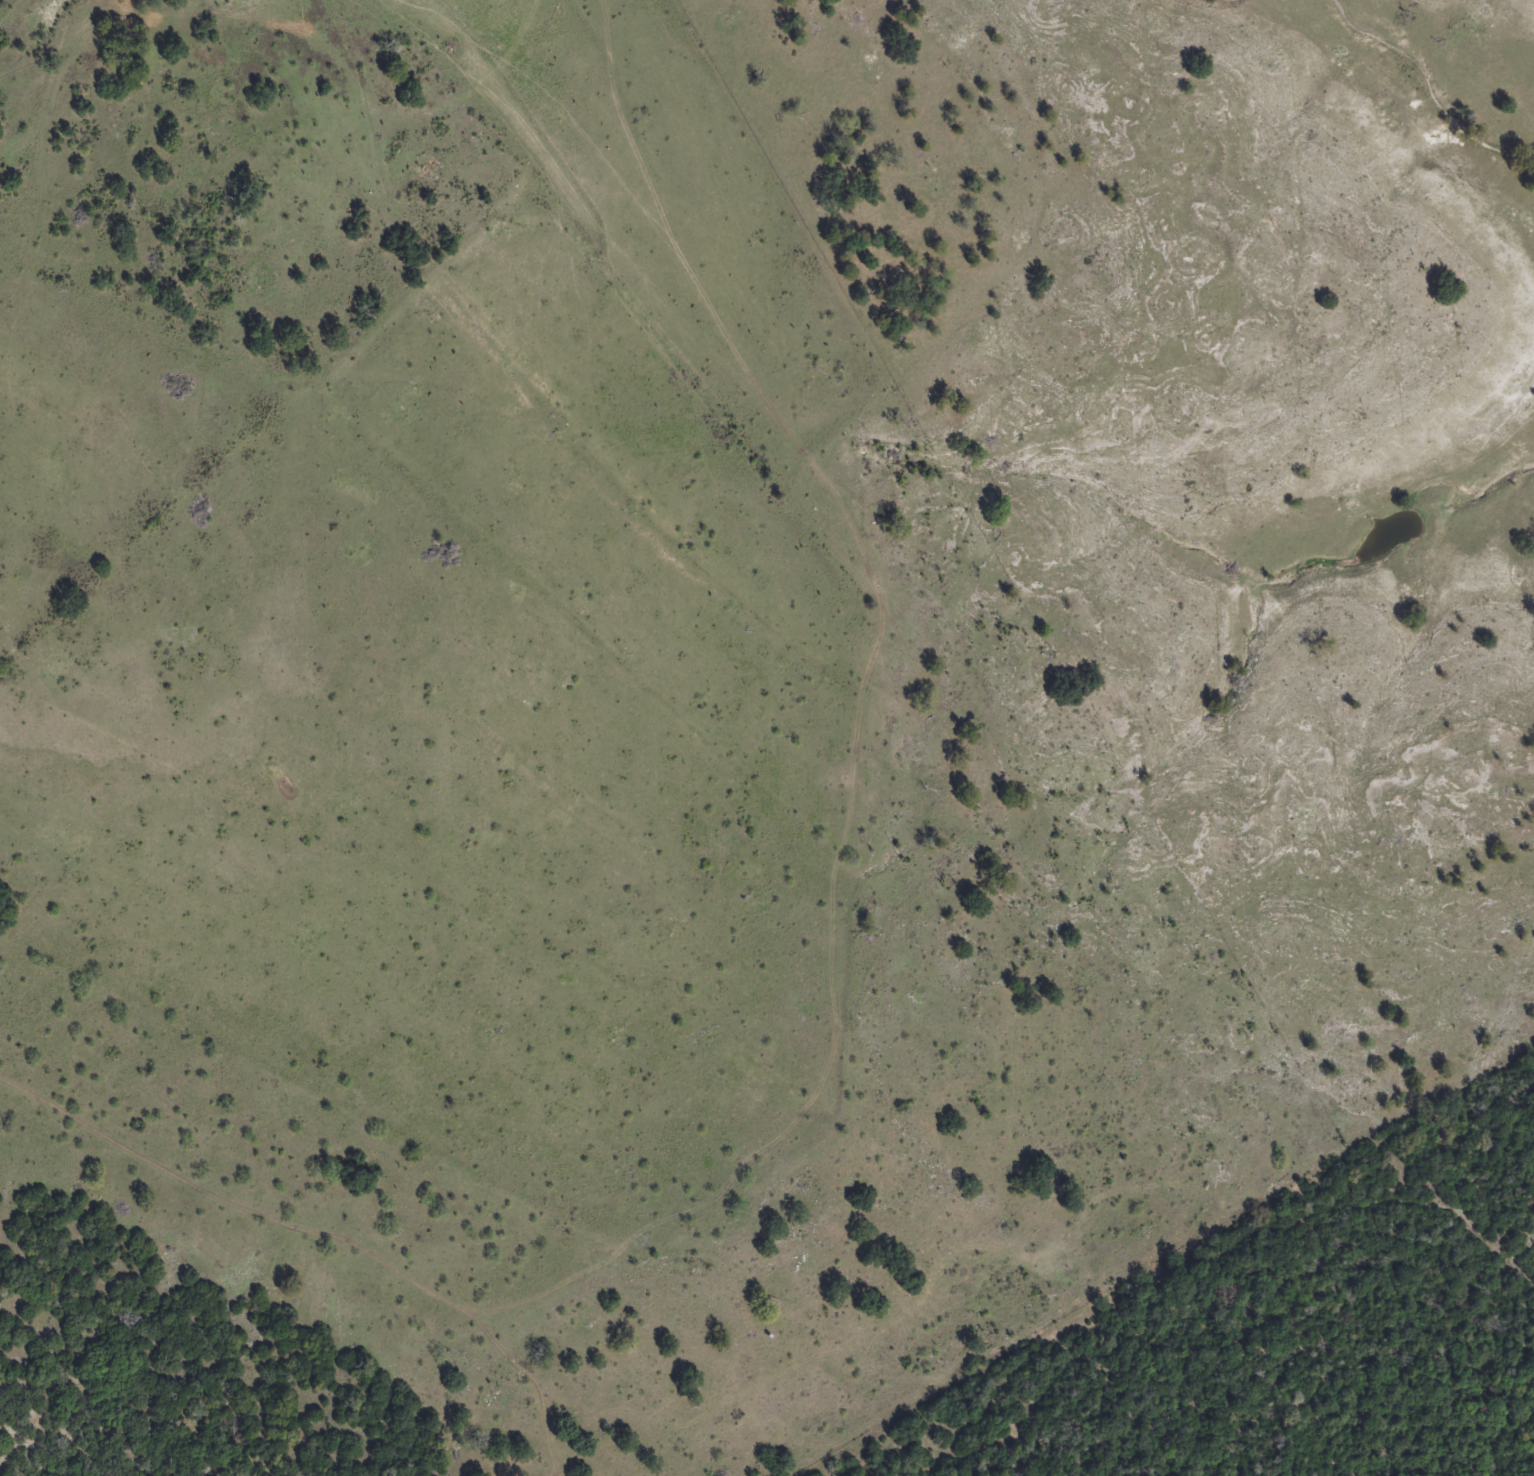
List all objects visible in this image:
road: (1171, 149)

